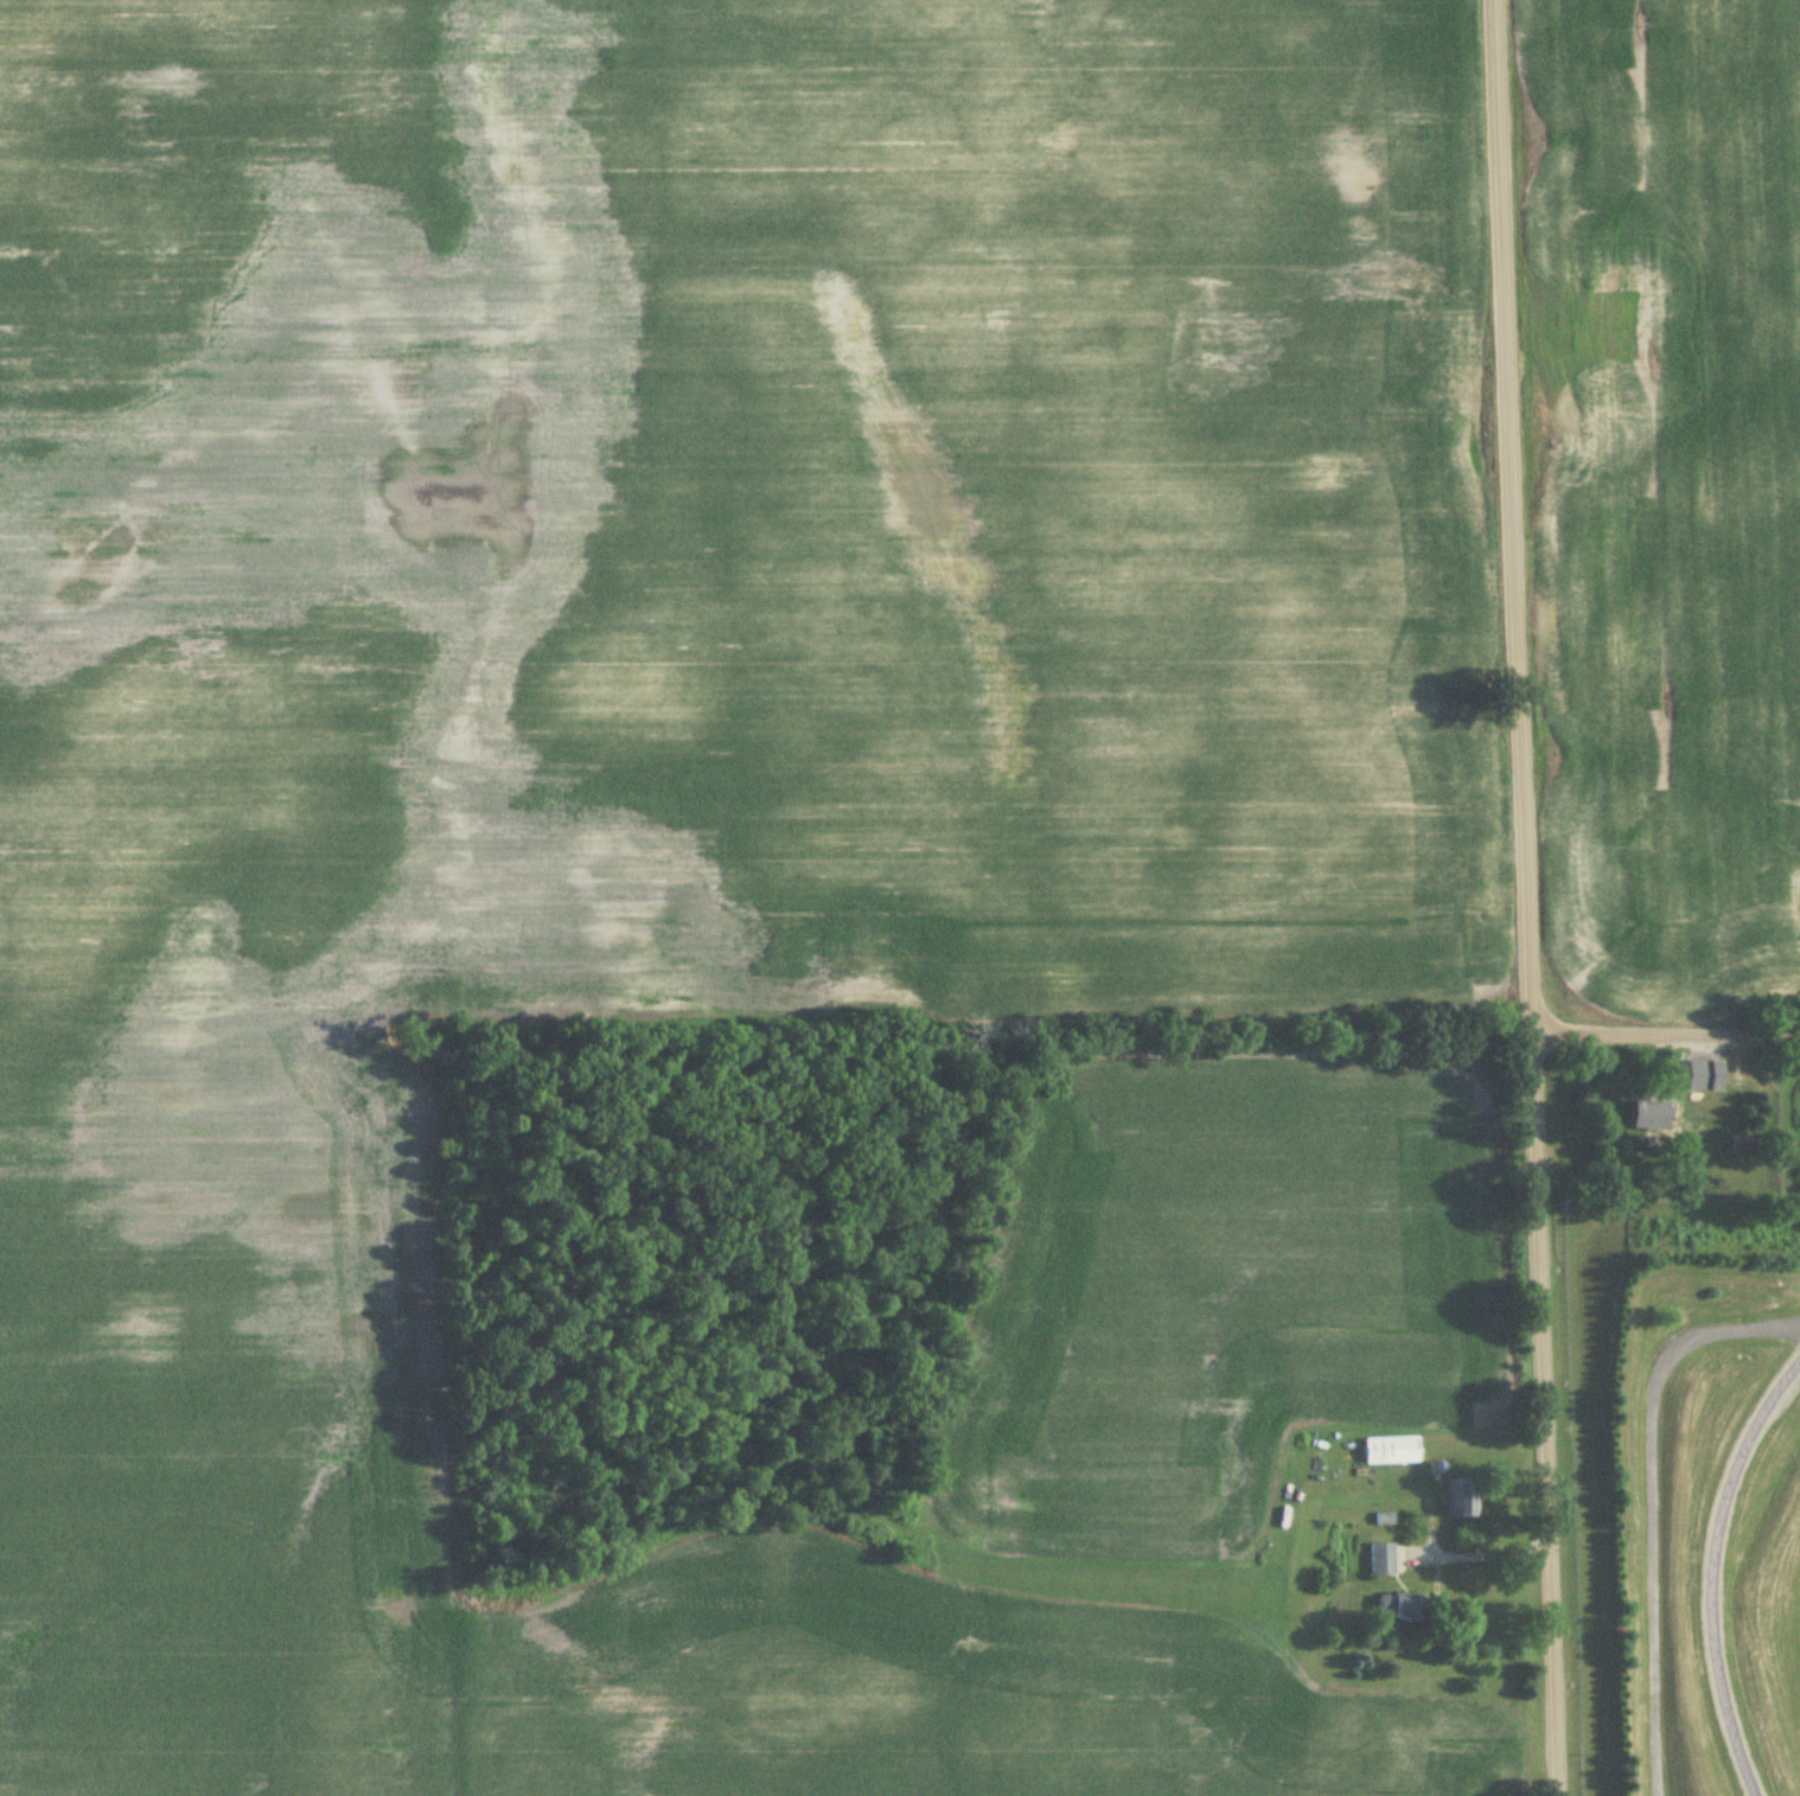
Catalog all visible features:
road: (1528, 897)
road: (1667, 1030)
building: (1706, 1078)
building: (1652, 1117)
building: (1741, 1144)
building: (1391, 1450)
building: (1462, 1498)
road: (1482, 1557)
building: (1381, 1560)
building: (1402, 1609)

